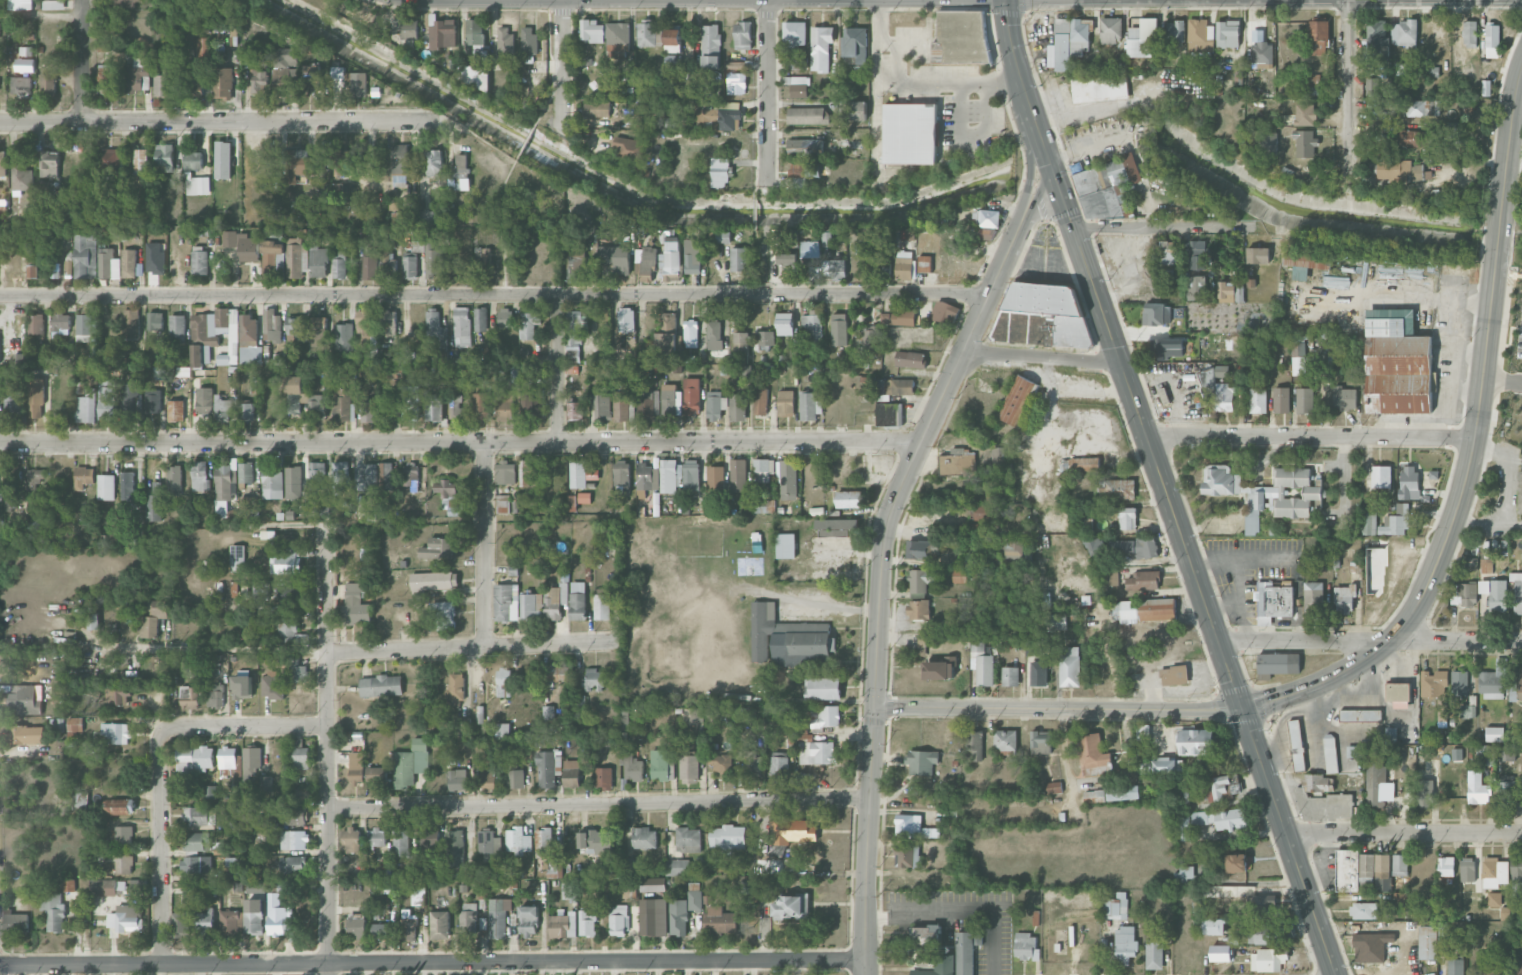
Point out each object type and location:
building: (123, 3)
building: (21, 4)
building: (54, 4)
road: (40, 14)
building: (409, 28)
building: (1111, 30)
building: (475, 31)
building: (593, 31)
building: (1470, 31)
building: (442, 32)
building: (618, 32)
building: (795, 32)
building: (650, 33)
building: (1176, 33)
building: (1228, 33)
building: (1404, 33)
building: (743, 35)
building: (1200, 35)
building: (1319, 36)
building: (960, 37)
building: (1143, 37)
building: (675, 39)
building: (505, 40)
building: (1492, 40)
building: (1378, 41)
building: (1068, 42)
building: (856, 43)
building: (529, 44)
building: (103, 45)
building: (711, 46)
building: (821, 47)
building: (203, 48)
building: (26, 50)
building: (1262, 52)
building: (286, 57)
road: (80, 62)
building: (799, 62)
building: (24, 64)
road: (562, 65)
building: (734, 65)
building: (476, 70)
building: (1428, 71)
building: (338, 72)
building: (106, 76)
building: (311, 76)
building: (137, 79)
building: (286, 80)
building: (259, 81)
building: (223, 82)
building: (164, 83)
building: (737, 83)
building: (48, 84)
building: (194, 84)
building: (359, 84)
building: (1312, 84)
building: (21, 85)
road: (906, 85)
building: (798, 86)
building: (1100, 88)
road: (1349, 88)
road: (767, 92)
road: (1026, 92)
road: (546, 104)
building: (597, 108)
building: (1417, 108)
building: (857, 110)
building: (722, 114)
building: (1305, 114)
building: (808, 115)
road: (225, 123)
building: (1455, 130)
building: (910, 133)
building: (1415, 138)
road: (526, 139)
building: (1269, 143)
building: (1305, 143)
building: (805, 147)
building: (629, 149)
building: (165, 155)
building: (223, 159)
building: (110, 161)
building: (342, 161)
building: (140, 162)
building: (434, 162)
building: (49, 163)
building: (399, 163)
building: (3, 164)
building: (299, 164)
building: (805, 169)
building: (1401, 170)
building: (460, 171)
building: (188, 173)
building: (21, 175)
building: (721, 176)
road: (756, 177)
building: (799, 182)
traffic signals: (1058, 183)
building: (1107, 188)
building: (340, 191)
road: (755, 210)
building: (395, 217)
building: (987, 218)
road: (503, 224)
road: (1166, 227)
building: (910, 234)
building: (724, 237)
building: (273, 240)
building: (243, 245)
building: (1168, 252)
building: (85, 253)
building: (811, 253)
building: (1197, 254)
building: (670, 255)
building: (1258, 255)
building: (482, 257)
building: (615, 257)
building: (692, 257)
building: (295, 259)
building: (317, 259)
building: (647, 259)
building: (739, 259)
building: (200, 260)
building: (432, 261)
building: (788, 261)
building: (108, 263)
building: (387, 263)
road: (756, 263)
building: (925, 263)
building: (1305, 263)
building: (131, 264)
building: (279, 264)
building: (32, 265)
building: (339, 265)
building: (409, 266)
building: (369, 267)
building: (576, 267)
building: (834, 268)
building: (904, 268)
building: (884, 270)
road: (1507, 274)
building: (1196, 287)
road: (494, 296)
building: (944, 312)
building: (1157, 314)
building: (1067, 316)
building: (505, 317)
building: (899, 317)
building: (480, 319)
building: (155, 320)
building: (626, 320)
building: (387, 322)
building: (131, 323)
building: (785, 323)
building: (60, 324)
building: (270, 324)
building: (293, 324)
building: (529, 324)
building: (177, 325)
building: (35, 326)
building: (462, 326)
building: (83, 327)
building: (363, 329)
building: (811, 329)
building: (838, 329)
building: (317, 331)
building: (436, 332)
building: (691, 333)
building: (574, 334)
building: (214, 335)
building: (667, 335)
building: (715, 335)
building: (767, 337)
building: (343, 338)
building: (871, 338)
building: (248, 340)
building: (740, 344)
building: (1169, 348)
building: (404, 357)
road: (1043, 357)
building: (1298, 358)
building: (911, 359)
building: (1397, 363)
road: (558, 370)
building: (1222, 371)
road: (1502, 379)
building: (895, 386)
building: (79, 387)
road: (1076, 390)
building: (294, 393)
building: (691, 396)
building: (1225, 396)
building: (36, 397)
building: (1344, 398)
building: (107, 399)
building: (671, 399)
building: (1017, 399)
building: (1281, 399)
building: (130, 400)
building: (152, 400)
building: (205, 400)
building: (761, 400)
building: (1258, 400)
building: (1304, 400)
building: (410, 402)
building: (602, 402)
building: (649, 402)
building: (786, 403)
building: (343, 404)
building: (12, 405)
building: (456, 405)
building: (481, 405)
building: (533, 405)
building: (621, 405)
building: (809, 405)
building: (85, 406)
building: (316, 406)
building: (505, 406)
building: (714, 406)
building: (431, 407)
building: (738, 407)
building: (222, 409)
building: (368, 409)
building: (176, 410)
building: (574, 410)
building: (246, 411)
building: (887, 414)
road: (1312, 436)
road: (460, 442)
road: (1475, 442)
building: (998, 460)
building: (958, 462)
building: (1080, 464)
building: (763, 469)
building: (246, 472)
building: (506, 472)
building: (528, 472)
building: (410, 473)
building: (577, 473)
building: (592, 473)
building: (317, 474)
building: (387, 475)
building: (622, 475)
building: (739, 475)
building: (200, 476)
building: (647, 476)
building: (670, 476)
building: (692, 476)
building: (716, 476)
building: (1381, 476)
building: (84, 477)
building: (340, 477)
building: (366, 477)
building: (36, 479)
building: (788, 479)
building: (175, 480)
building: (226, 481)
building: (293, 482)
building: (1409, 482)
building: (10, 483)
road: (1505, 483)
building: (272, 484)
building: (128, 485)
building: (106, 486)
building: (1122, 489)
building: (1266, 492)
building: (1520, 493)
building: (449, 496)
building: (584, 497)
building: (849, 499)
building: (246, 502)
building: (572, 502)
building: (154, 503)
building: (503, 503)
building: (764, 505)
building: (221, 507)
building: (535, 507)
building: (319, 509)
building: (983, 512)
building: (1127, 518)
building: (1397, 521)
building: (1369, 523)
building: (35, 525)
road: (385, 526)
building: (837, 527)
road: (483, 544)
building: (786, 545)
building: (1094, 545)
building: (1137, 547)
building: (437, 548)
building: (919, 549)
building: (1012, 549)
road: (884, 557)
building: (237, 558)
building: (286, 561)
building: (1470, 563)
building: (1486, 565)
building: (1375, 571)
building: (958, 576)
road: (1197, 578)
building: (1142, 580)
building: (433, 581)
building: (260, 586)
building: (233, 589)
building: (244, 591)
building: (1517, 591)
building: (290, 593)
building: (1495, 593)
building: (1463, 594)
building: (1313, 597)
building: (1275, 598)
building: (1344, 599)
building: (555, 600)
building: (578, 600)
building: (506, 602)
building: (602, 603)
building: (260, 604)
building: (356, 604)
building: (531, 606)
building: (918, 609)
building: (1144, 610)
building: (444, 615)
building: (152, 618)
building: (93, 621)
building: (288, 630)
building: (790, 639)
road: (1370, 641)
building: (922, 642)
road: (223, 648)
road: (475, 648)
building: (982, 662)
building: (1278, 663)
building: (1070, 666)
building: (940, 669)
building: (298, 670)
building: (1039, 672)
building: (557, 674)
building: (1174, 675)
building: (1010, 676)
building: (594, 680)
building: (1493, 681)
building: (504, 682)
building: (1459, 683)
building: (1519, 684)
building: (272, 685)
building: (381, 685)
building: (242, 687)
building: (1512, 687)
building: (823, 688)
building: (455, 689)
building: (1436, 689)
building: (1399, 694)
building: (215, 695)
building: (119, 696)
building: (190, 697)
building: (26, 698)
road: (1060, 709)
building: (1467, 711)
building: (548, 713)
building: (694, 715)
building: (1360, 715)
building: (825, 716)
building: (462, 723)
building: (57, 724)
building: (74, 725)
road: (244, 726)
building: (502, 729)
building: (116, 732)
building: (1391, 733)
building: (27, 734)
building: (1494, 734)
building: (1005, 740)
building: (1040, 742)
building: (1196, 742)
building: (974, 745)
building: (1297, 745)
road: (330, 750)
building: (1355, 751)
building: (1487, 752)
building: (822, 753)
road: (1066, 753)
building: (1330, 753)
building: (1506, 753)
building: (300, 754)
building: (1093, 755)
building: (186, 757)
building: (204, 757)
building: (252, 761)
building: (752, 761)
building: (922, 761)
building: (227, 762)
building: (411, 763)
building: (721, 763)
building: (660, 764)
building: (631, 765)
building: (1167, 765)
building: (690, 766)
building: (779, 766)
building: (548, 767)
building: (356, 768)
building: (571, 773)
building: (376, 774)
building: (515, 776)
building: (489, 777)
building: (604, 778)
building: (800, 778)
building: (458, 779)
building: (1377, 782)
building: (265, 783)
building: (1052, 786)
building: (1222, 787)
building: (1477, 788)
building: (1506, 788)
building: (210, 792)
building: (303, 793)
building: (1094, 793)
building: (1425, 793)
building: (1321, 800)
road: (600, 804)
building: (118, 806)
building: (296, 815)
building: (200, 816)
building: (1220, 818)
building: (913, 827)
building: (1183, 827)
building: (793, 831)
road: (1404, 833)
building: (124, 834)
building: (377, 836)
building: (432, 837)
building: (645, 838)
building: (728, 838)
building: (295, 839)
building: (351, 839)
building: (688, 839)
building: (518, 840)
building: (596, 841)
building: (196, 842)
building: (402, 842)
building: (543, 842)
building: (489, 845)
building: (455, 848)
road: (161, 849)
building: (907, 856)
building: (124, 862)
building: (1382, 862)
building: (293, 863)
building: (1237, 863)
building: (193, 864)
building: (1400, 865)
building: (554, 866)
building: (677, 866)
building: (1446, 866)
building: (1352, 869)
building: (1467, 869)
building: (1516, 871)
building: (1494, 872)
building: (1183, 875)
building: (653, 884)
building: (70, 885)
building: (136, 885)
building: (387, 885)
building: (108, 887)
building: (569, 890)
building: (419, 894)
building: (1494, 899)
building: (1254, 901)
building: (1400, 901)
building: (791, 906)
building: (1116, 906)
building: (1363, 910)
building: (54, 911)
building: (684, 912)
building: (1505, 913)
road: (916, 914)
building: (254, 916)
building: (278, 916)
building: (127, 917)
building: (498, 917)
building: (653, 917)
building: (468, 919)
building: (528, 920)
building: (619, 920)
building: (720, 920)
building: (231, 921)
building: (16, 922)
building: (205, 922)
building: (180, 923)
building: (440, 924)
building: (588, 924)
building: (356, 925)
building: (563, 925)
building: (1213, 926)
building: (380, 930)
building: (408, 930)
building: (1272, 931)
building: (927, 934)
building: (1427, 942)
building: (1125, 945)
building: (1026, 946)
building: (1368, 946)
building: (1154, 953)
building: (1220, 953)
building: (954, 958)
building: (1268, 959)
building: (1488, 961)
road: (433, 963)
building: (1456, 966)
building: (1517, 967)

